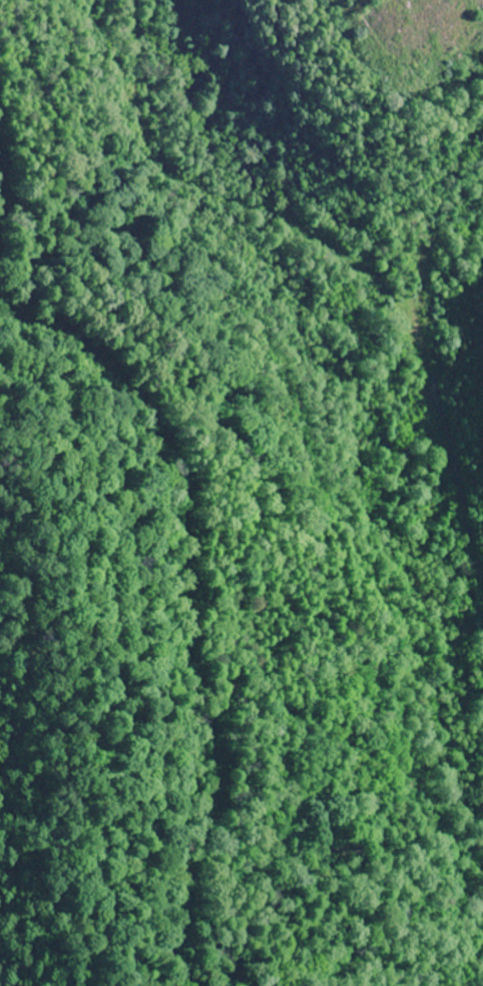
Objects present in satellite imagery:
road: (449, 451)

